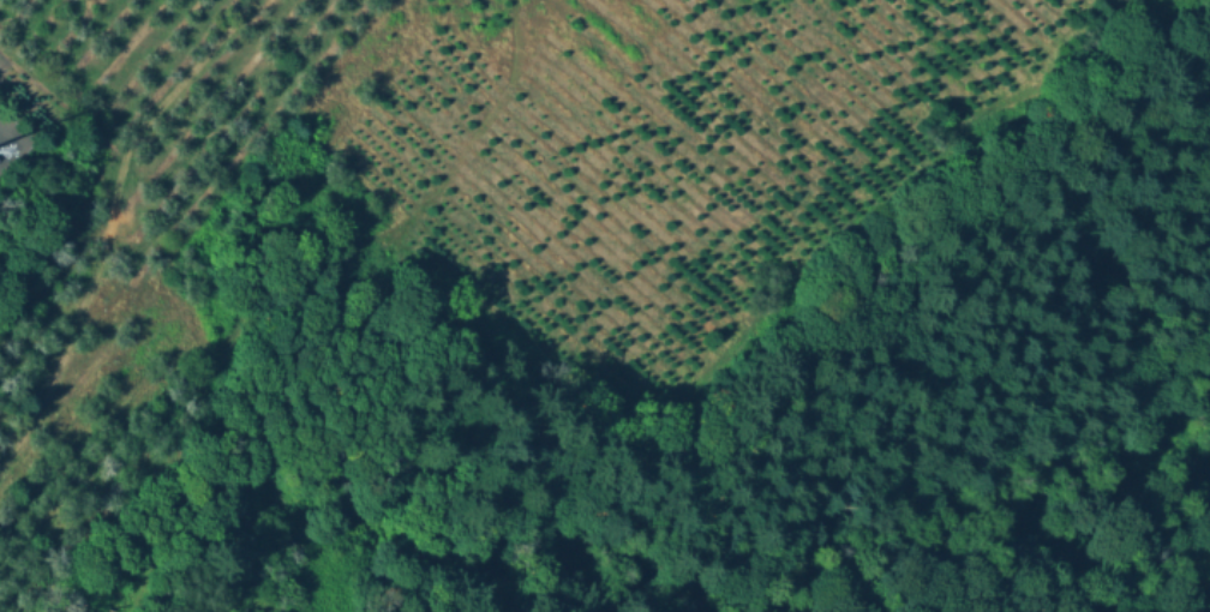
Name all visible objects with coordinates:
crop: (427, 167)

